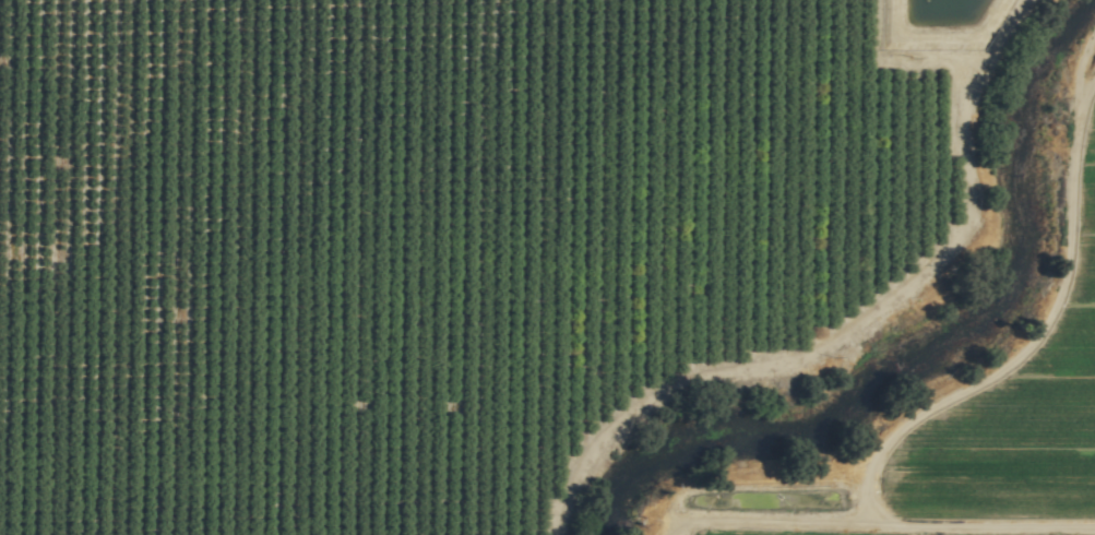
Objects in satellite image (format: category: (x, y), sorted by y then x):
road: (882, 523)

